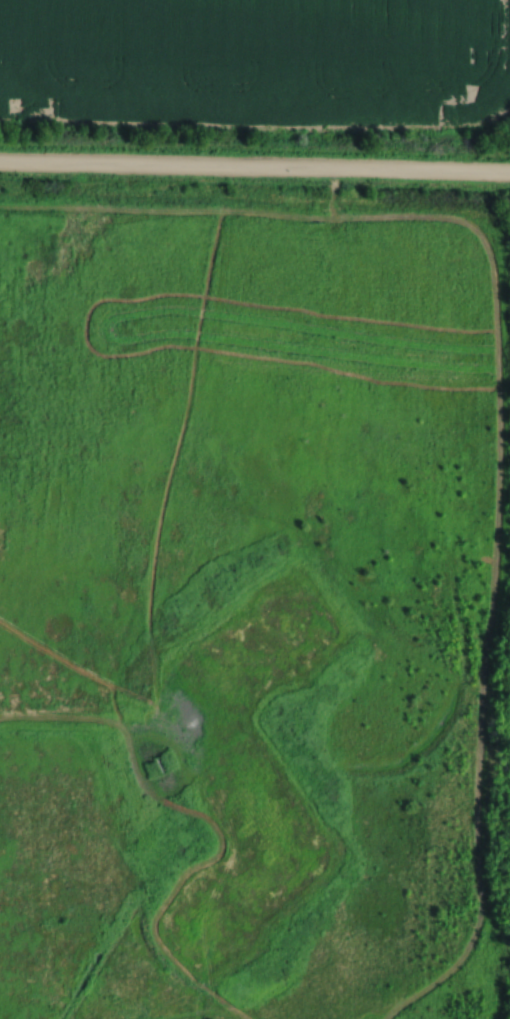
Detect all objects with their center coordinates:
road: (255, 168)

